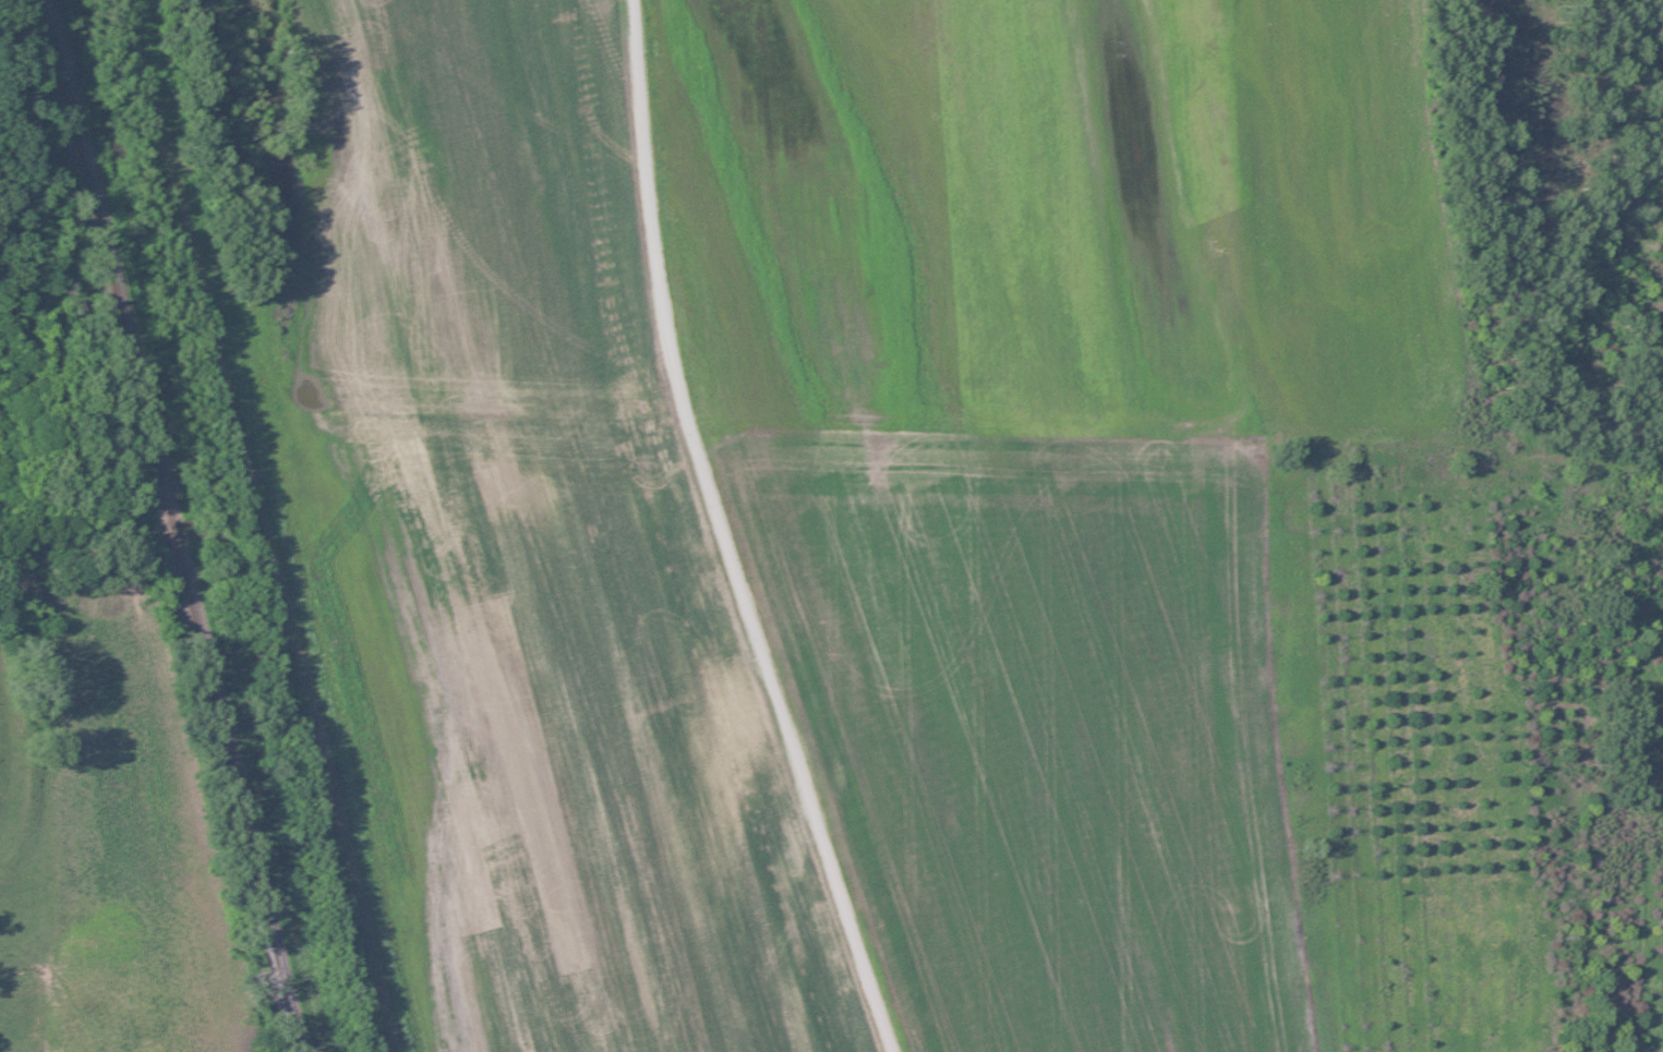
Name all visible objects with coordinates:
road: (725, 534)
railway: (134, 589)

